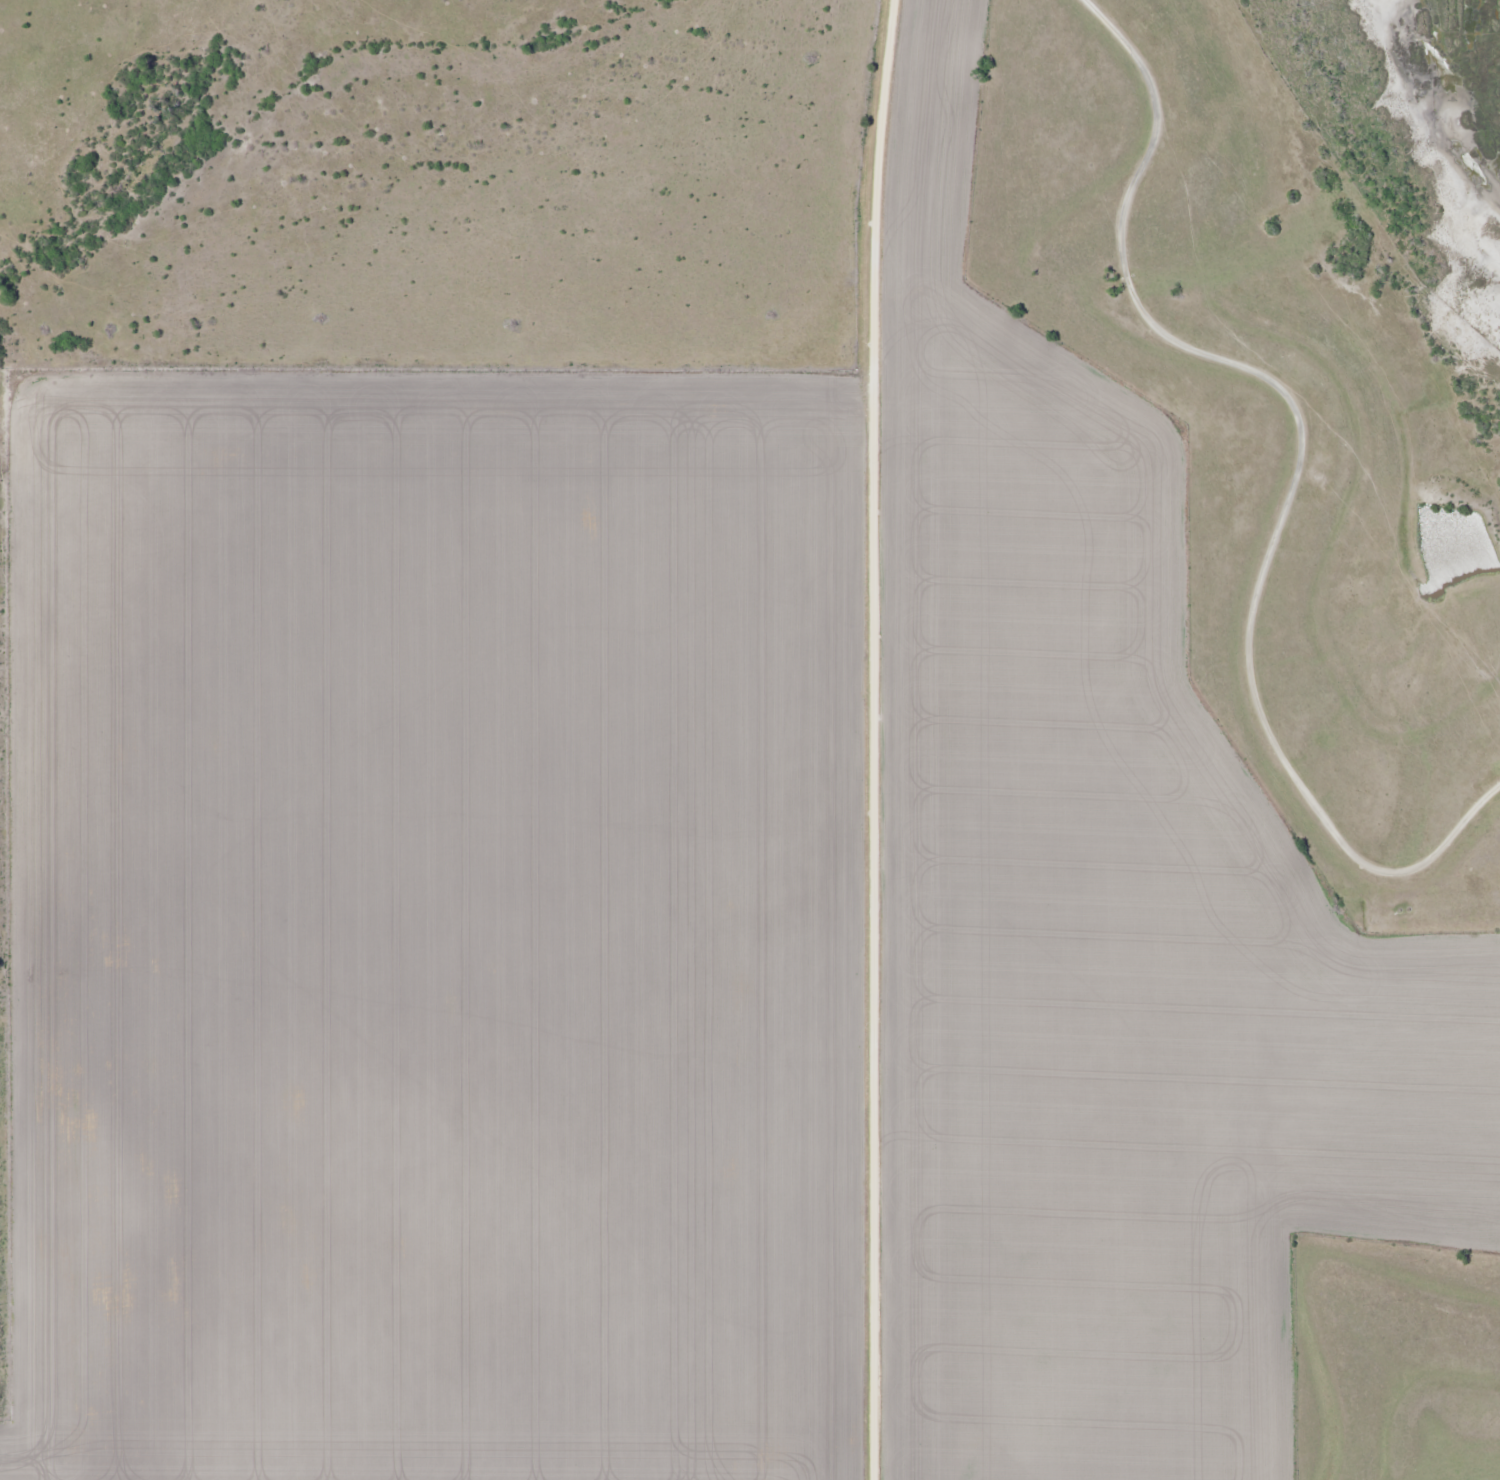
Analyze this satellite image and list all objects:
road: (1292, 476)
road: (875, 739)

